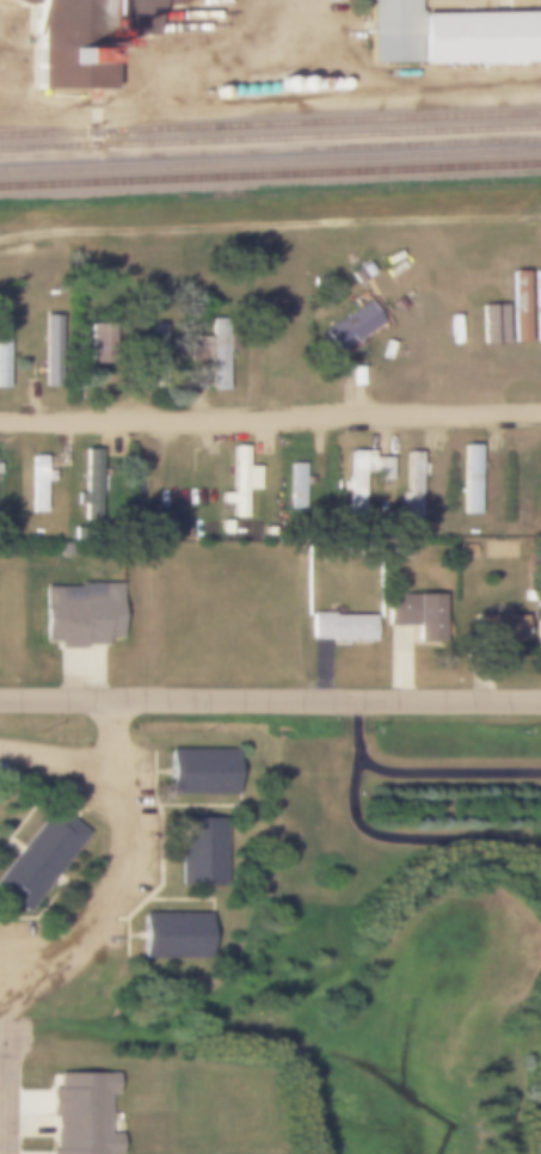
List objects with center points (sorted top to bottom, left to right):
building: (389, 31)
building: (81, 38)
building: (472, 38)
building: (251, 78)
silo: (251, 78)
building: (262, 78)
silo: (262, 78)
building: (282, 84)
silo: (282, 84)
building: (300, 84)
silo: (300, 84)
building: (315, 84)
silo: (315, 84)
building: (327, 84)
silo: (327, 84)
building: (340, 84)
silo: (340, 84)
building: (269, 88)
silo: (269, 88)
building: (232, 90)
silo: (232, 90)
building: (245, 90)
silo: (245, 90)
building: (257, 90)
silo: (257, 90)
railway: (270, 121)
railway: (270, 135)
railway: (270, 160)
railway: (270, 176)
road: (269, 228)
building: (356, 275)
building: (350, 326)
building: (104, 343)
building: (213, 349)
building: (2, 351)
building: (51, 351)
building: (156, 355)
road: (270, 417)
building: (468, 479)
building: (91, 480)
building: (238, 481)
building: (37, 483)
building: (410, 484)
building: (296, 486)
building: (529, 486)
building: (354, 498)
building: (225, 527)
building: (171, 533)
building: (465, 550)
building: (80, 614)
building: (417, 614)
building: (340, 626)
building: (493, 627)
building: (537, 631)
road: (270, 700)
road: (119, 749)
building: (198, 771)
road: (449, 773)
road: (385, 839)
building: (199, 851)
building: (38, 858)
road: (123, 871)
building: (171, 935)
road: (0, 1035)
road: (0, 1094)
building: (80, 1113)
road: (533, 1136)

